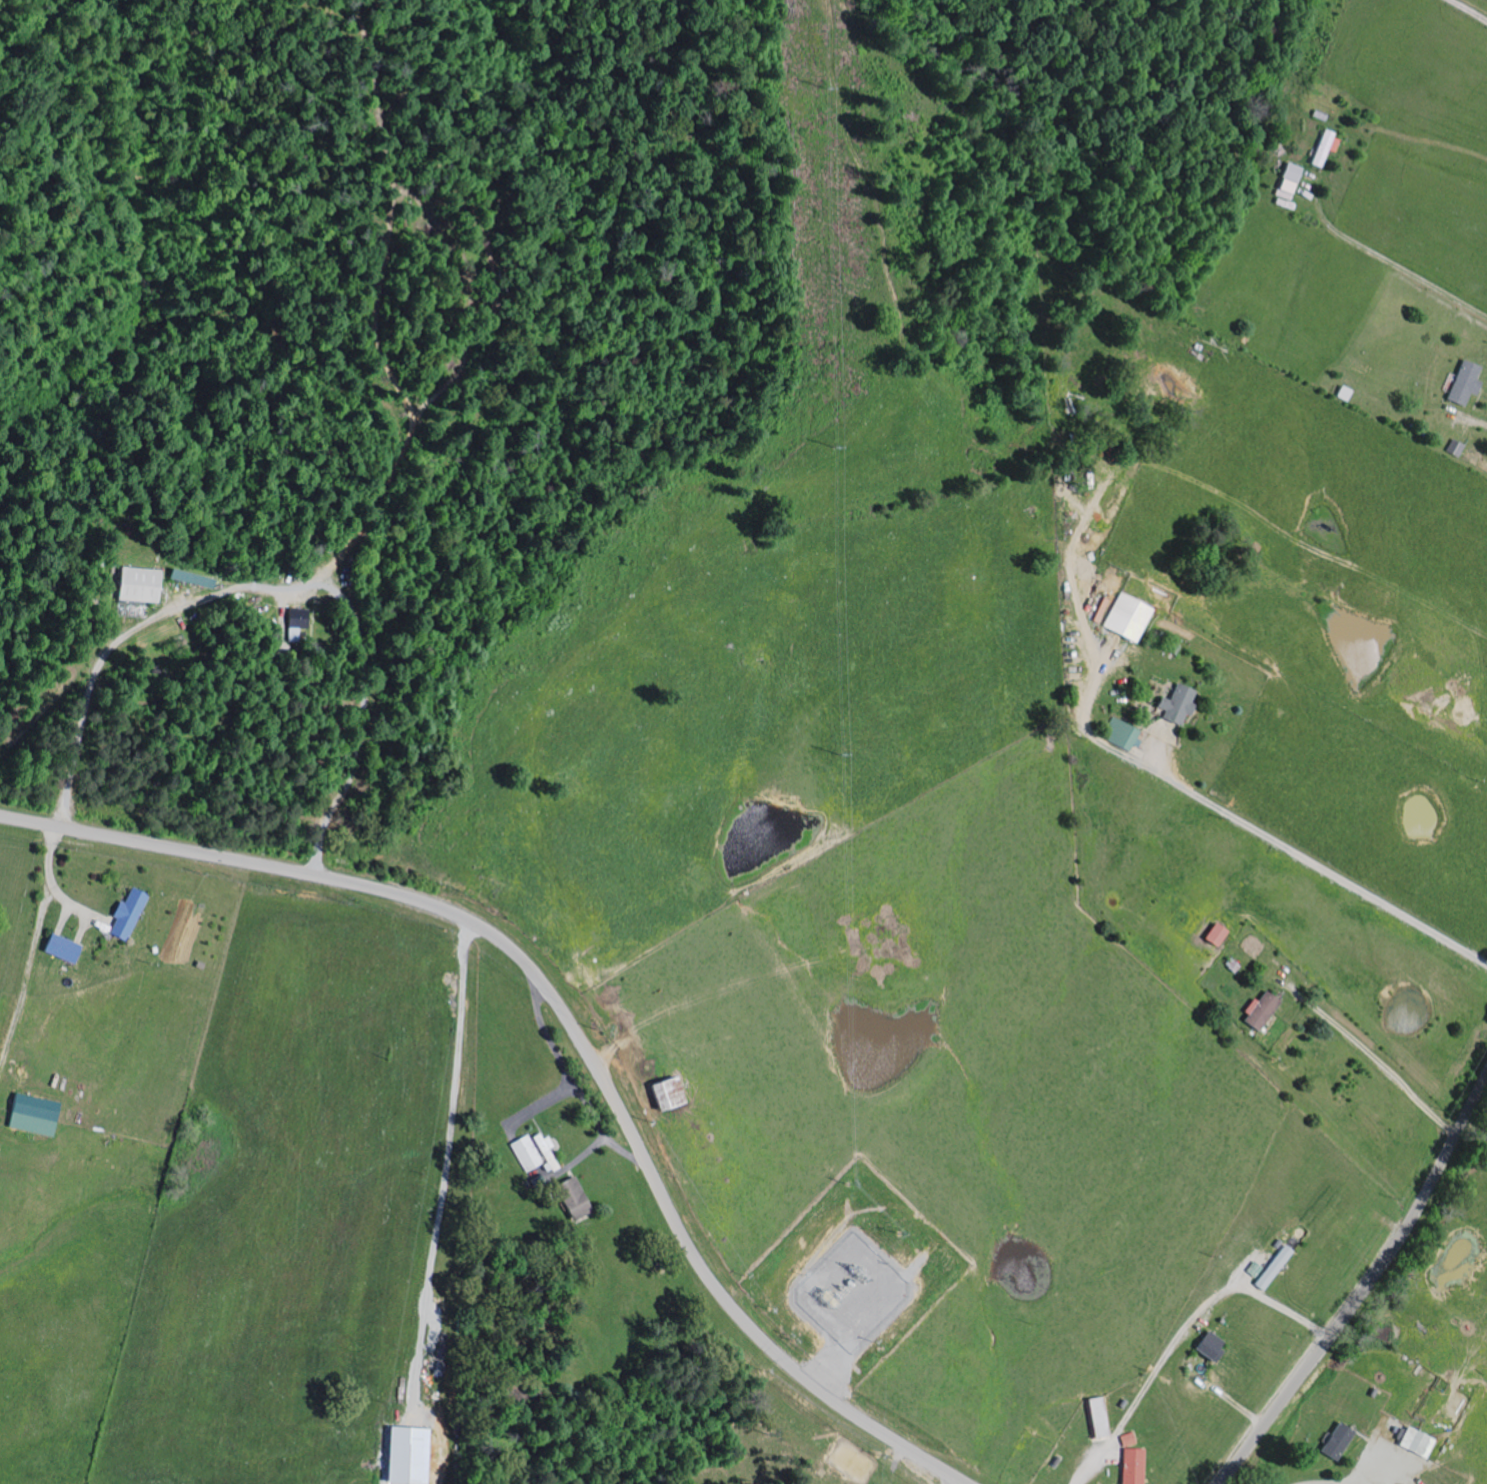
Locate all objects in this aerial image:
road: (1468, 10)
building: (1319, 148)
building: (1284, 184)
road: (1356, 202)
road: (1401, 270)
building: (1461, 383)
building: (1341, 393)
road: (1471, 419)
building: (1452, 448)
road: (1366, 552)
building: (144, 585)
building: (1125, 617)
building: (299, 619)
road: (118, 640)
road: (1352, 651)
building: (1172, 703)
building: (1118, 734)
road: (1250, 743)
road: (1140, 773)
building: (130, 913)
building: (1211, 934)
road: (34, 947)
building: (66, 948)
building: (1255, 1011)
road: (568, 1022)
road: (1388, 1070)
building: (660, 1092)
building: (532, 1152)
road: (446, 1165)
building: (568, 1198)
building: (1273, 1268)
road: (1366, 1289)
power substation: (852, 1291)
road: (1184, 1337)
building: (1207, 1345)
building: (1097, 1416)
building: (1334, 1441)
building: (1413, 1442)
building: (400, 1455)
building: (1129, 1461)
road: (956, 1481)

